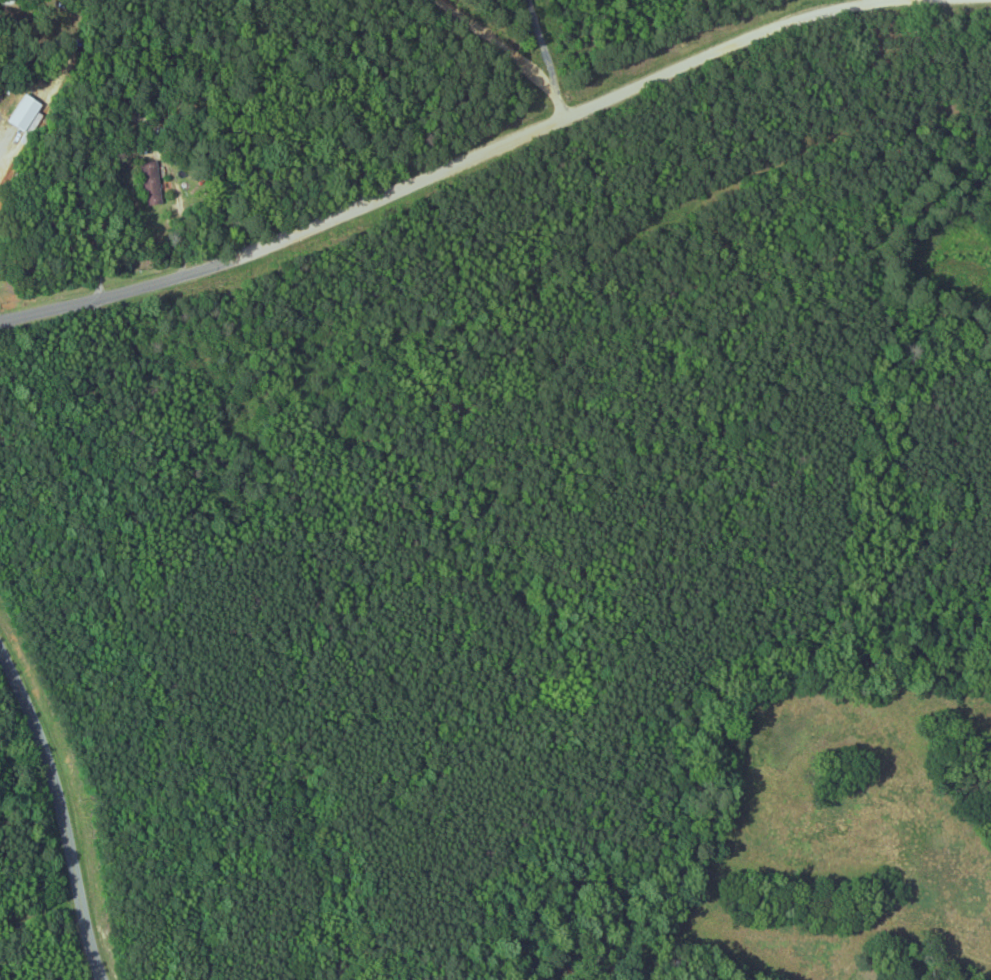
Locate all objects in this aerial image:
road: (727, 49)
road: (517, 53)
building: (30, 114)
building: (154, 184)
road: (289, 237)
road: (58, 813)

